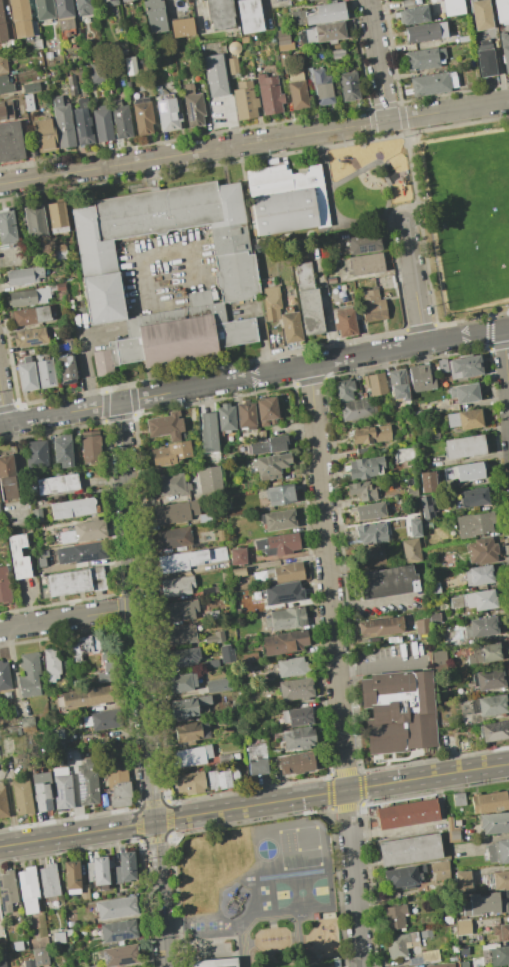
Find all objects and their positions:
building: (310, 0)
building: (109, 2)
building: (126, 2)
building: (452, 7)
building: (83, 9)
building: (44, 10)
building: (501, 10)
building: (220, 14)
building: (481, 14)
building: (320, 15)
building: (415, 15)
building: (65, 16)
building: (155, 16)
building: (249, 16)
building: (21, 19)
building: (6, 26)
building: (182, 27)
building: (326, 33)
building: (423, 33)
building: (464, 39)
building: (283, 41)
building: (37, 44)
building: (123, 49)
building: (505, 50)
building: (49, 54)
building: (337, 54)
building: (424, 58)
building: (485, 59)
building: (284, 60)
road: (377, 60)
building: (231, 63)
building: (3, 64)
building: (97, 72)
building: (215, 76)
building: (183, 78)
building: (430, 84)
building: (5, 85)
building: (72, 86)
building: (349, 87)
building: (31, 88)
building: (322, 88)
building: (297, 90)
building: (269, 95)
building: (245, 101)
building: (29, 103)
building: (193, 106)
building: (6, 110)
building: (167, 112)
building: (143, 116)
building: (121, 120)
building: (63, 123)
building: (83, 123)
building: (103, 124)
building: (46, 136)
building: (10, 142)
road: (254, 142)
road: (413, 172)
building: (284, 199)
park: (435, 206)
park: (470, 216)
building: (57, 218)
building: (34, 223)
building: (7, 228)
building: (362, 244)
building: (366, 264)
building: (237, 268)
building: (24, 276)
building: (304, 276)
building: (331, 281)
road: (413, 283)
building: (29, 297)
building: (272, 305)
building: (373, 307)
building: (310, 312)
building: (30, 316)
building: (346, 323)
building: (291, 328)
building: (177, 336)
building: (31, 337)
road: (85, 356)
road: (313, 364)
road: (505, 365)
building: (443, 366)
building: (466, 367)
building: (67, 370)
building: (45, 373)
building: (27, 375)
building: (421, 379)
building: (375, 384)
building: (398, 384)
building: (343, 391)
building: (465, 394)
road: (2, 408)
building: (357, 409)
building: (267, 412)
building: (417, 413)
road: (59, 415)
building: (246, 416)
building: (226, 418)
building: (464, 420)
building: (166, 426)
building: (209, 433)
building: (371, 434)
building: (261, 435)
building: (77, 437)
building: (90, 444)
building: (268, 446)
building: (464, 447)
building: (63, 451)
building: (171, 454)
building: (36, 455)
building: (269, 466)
building: (365, 468)
building: (464, 472)
building: (7, 478)
building: (210, 481)
building: (428, 482)
building: (57, 484)
building: (171, 485)
building: (412, 492)
building: (362, 493)
building: (280, 495)
building: (471, 498)
building: (401, 500)
building: (426, 507)
building: (72, 508)
building: (370, 511)
building: (175, 512)
building: (0, 514)
building: (37, 515)
building: (205, 518)
building: (278, 520)
building: (475, 525)
building: (415, 528)
building: (81, 531)
building: (371, 533)
building: (221, 536)
building: (173, 538)
building: (277, 544)
building: (411, 551)
building: (483, 551)
building: (83, 552)
building: (18, 555)
building: (372, 555)
building: (207, 556)
building: (237, 556)
building: (49, 557)
building: (99, 562)
building: (173, 562)
building: (239, 572)
building: (288, 572)
building: (264, 576)
building: (479, 576)
building: (76, 581)
building: (387, 582)
building: (4, 586)
building: (177, 586)
building: (209, 591)
building: (282, 592)
building: (476, 601)
building: (180, 611)
building: (212, 615)
road: (67, 618)
building: (434, 618)
building: (285, 619)
building: (378, 627)
building: (422, 628)
building: (481, 628)
building: (179, 635)
building: (215, 637)
building: (285, 642)
building: (83, 646)
building: (226, 653)
building: (483, 654)
building: (183, 657)
building: (246, 657)
building: (439, 658)
building: (52, 664)
building: (210, 664)
road: (378, 664)
road: (335, 666)
building: (292, 667)
building: (107, 668)
building: (29, 675)
building: (4, 677)
building: (488, 679)
building: (182, 683)
road: (142, 685)
building: (219, 685)
building: (246, 685)
building: (296, 689)
building: (7, 695)
building: (86, 697)
building: (489, 705)
building: (188, 707)
building: (399, 711)
building: (297, 716)
building: (103, 719)
building: (467, 719)
building: (28, 725)
building: (13, 730)
building: (495, 731)
building: (190, 733)
building: (57, 734)
building: (298, 738)
building: (112, 748)
building: (191, 756)
building: (236, 756)
building: (225, 758)
building: (257, 759)
building: (118, 760)
building: (296, 763)
building: (59, 771)
building: (219, 780)
building: (87, 782)
building: (189, 783)
building: (119, 788)
building: (41, 789)
building: (62, 791)
building: (22, 797)
building: (458, 799)
building: (3, 802)
building: (490, 802)
road: (254, 805)
building: (407, 814)
traffic signals: (154, 822)
building: (494, 823)
building: (453, 832)
building: (409, 849)
building: (498, 851)
building: (124, 868)
building: (101, 870)
building: (440, 870)
building: (71, 877)
building: (402, 878)
building: (49, 880)
building: (497, 880)
building: (463, 881)
building: (28, 890)
building: (7, 891)
park: (266, 891)
building: (84, 892)
building: (485, 904)
building: (117, 908)
building: (394, 917)
building: (69, 924)
building: (463, 927)
building: (116, 930)
building: (68, 932)
building: (501, 932)
building: (426, 934)
building: (59, 937)
building: (397, 946)
building: (476, 952)
building: (414, 954)
building: (120, 955)
building: (430, 956)
building: (499, 956)
building: (40, 957)
building: (2, 961)
building: (415, 961)
building: (214, 962)
building: (29, 963)
building: (441, 965)
building: (96, 966)

